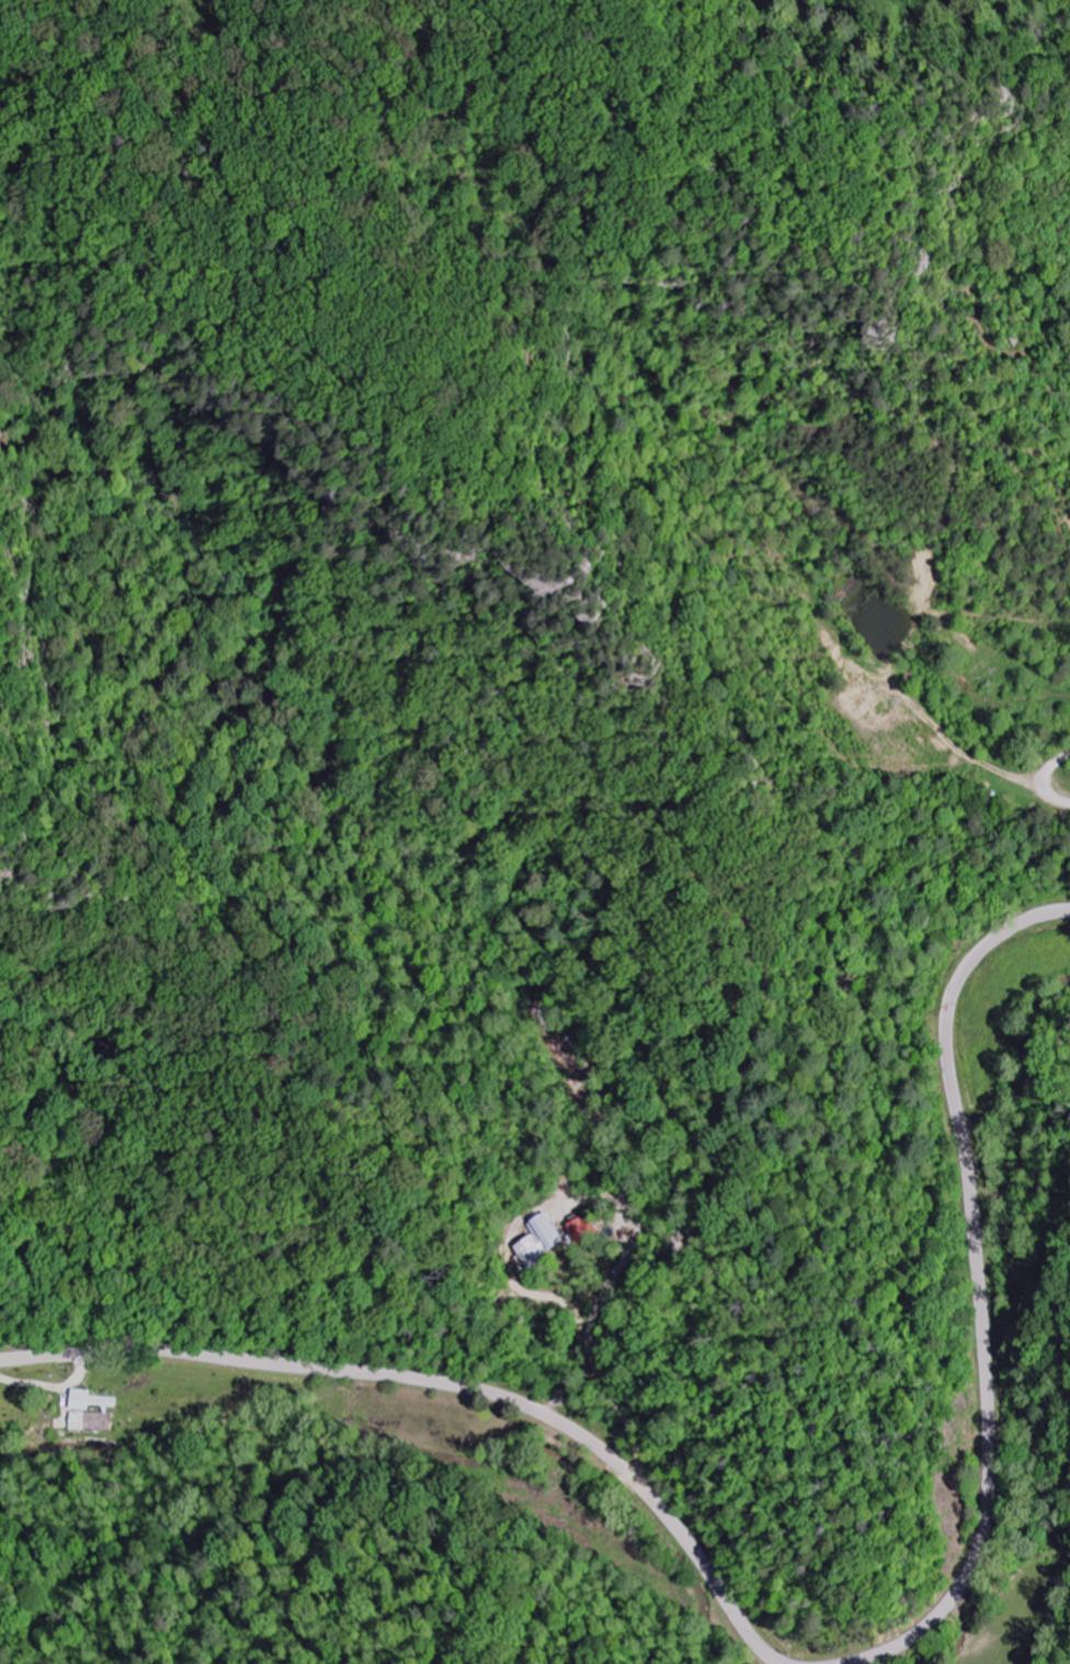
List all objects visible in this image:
building: (580, 1229)
building: (539, 1241)
road: (978, 1290)
road: (447, 1385)

